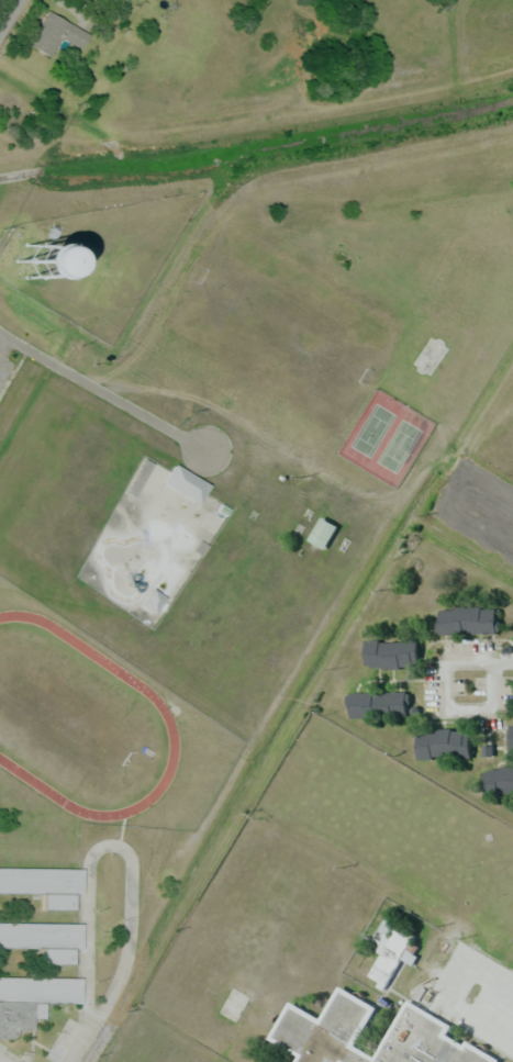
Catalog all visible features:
road: (8, 14)
building: (57, 33)
building: (65, 264)
water tower: (37, 280)
road: (102, 392)
park: (384, 441)
building: (185, 487)
building: (322, 536)
building: (148, 600)
building: (467, 624)
building: (393, 657)
road: (501, 661)
building: (377, 707)
road: (439, 712)
track: (79, 724)
building: (511, 739)
building: (443, 746)
building: (498, 785)
building: (41, 934)
building: (387, 948)
building: (32, 998)
building: (320, 1021)

